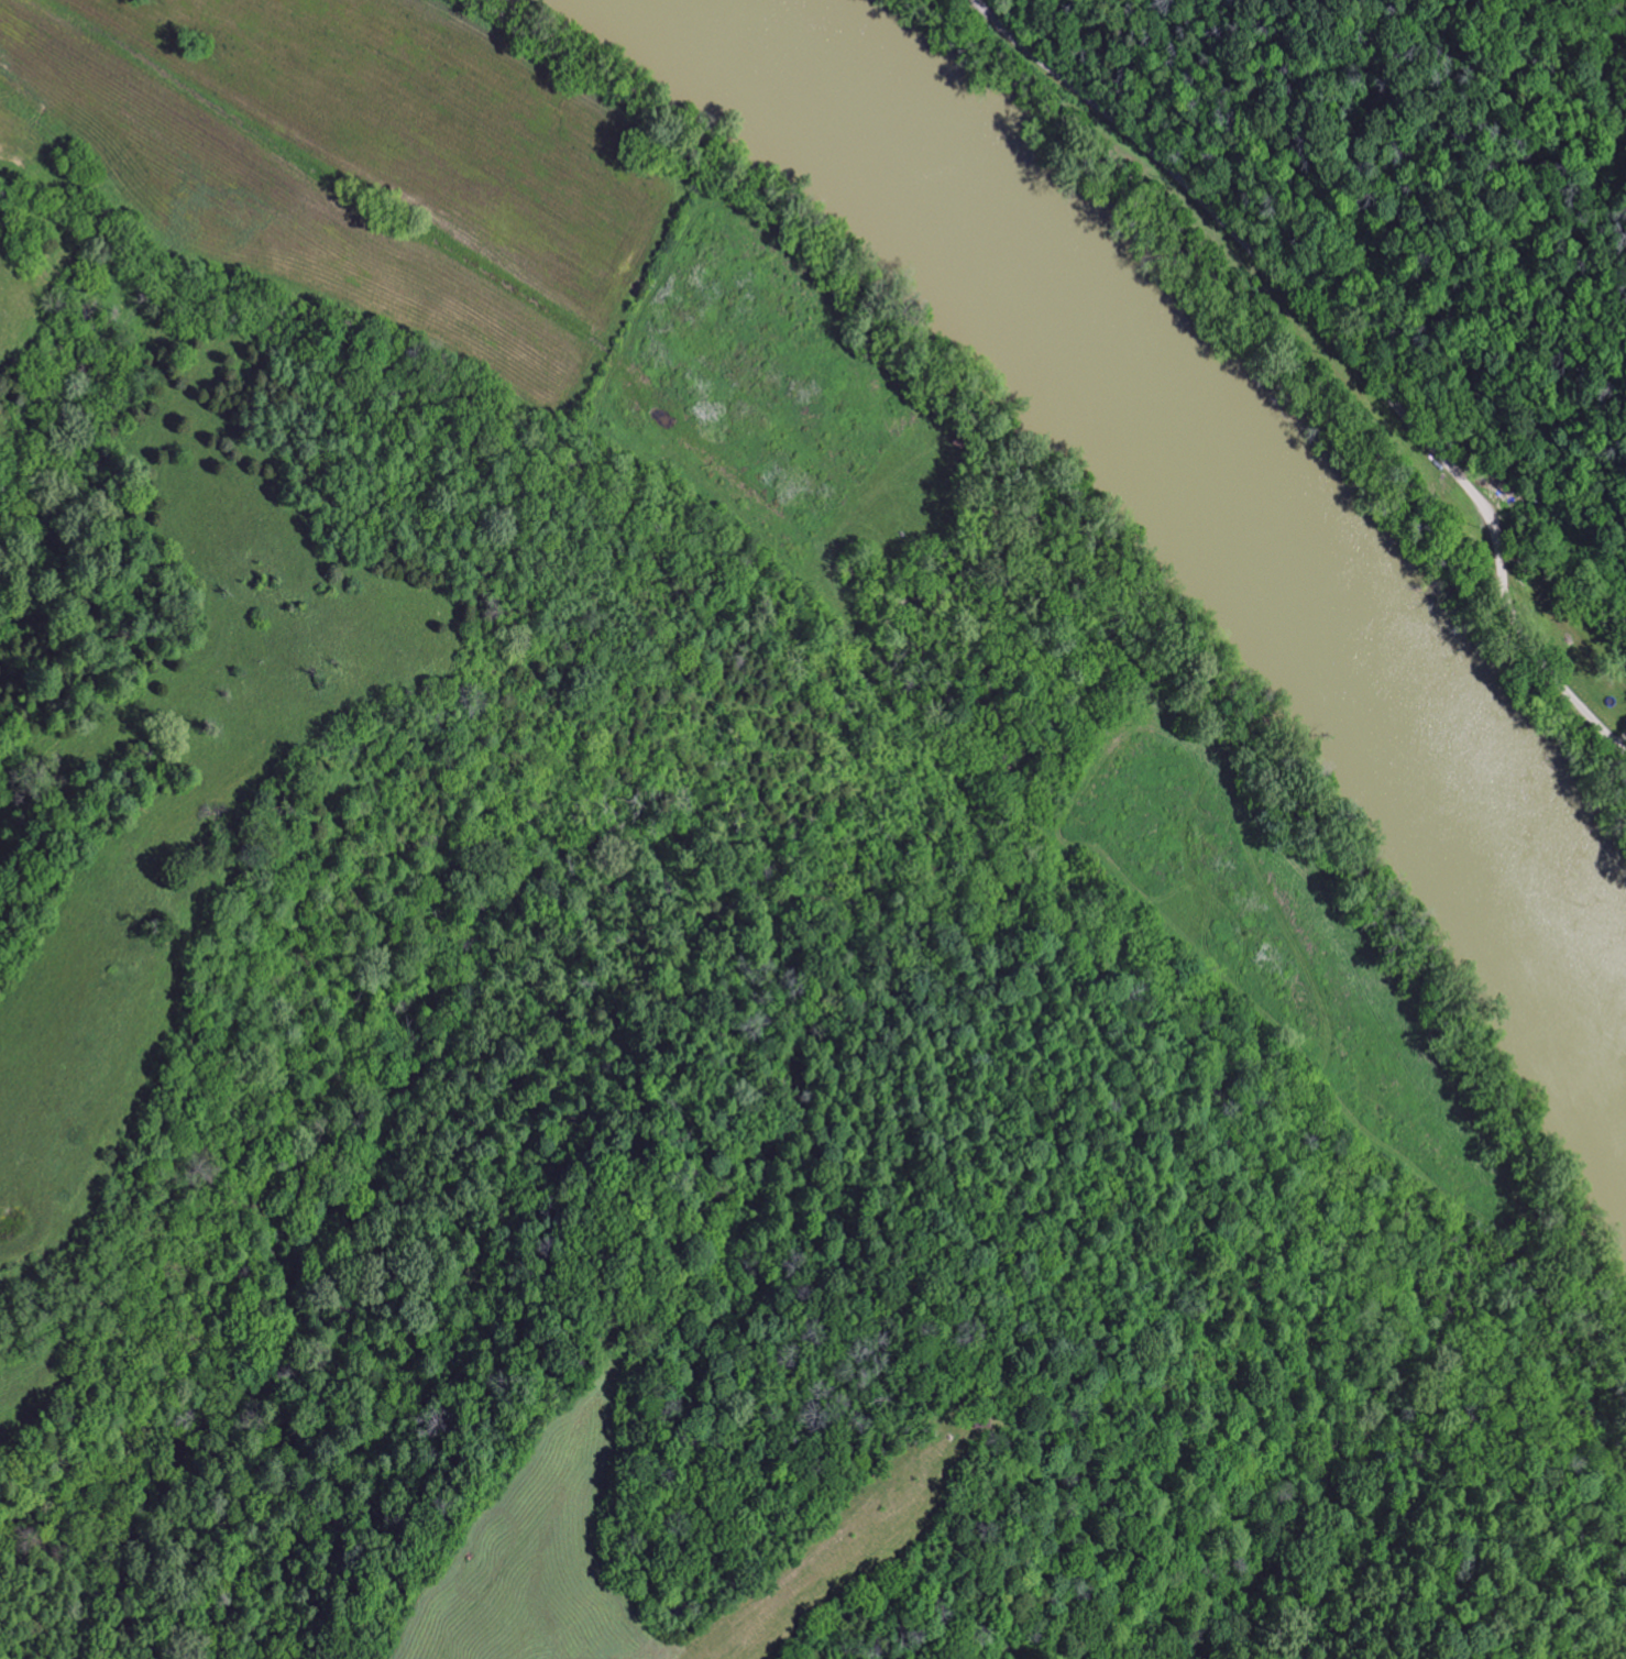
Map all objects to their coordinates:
road: (1343, 350)
river: (1223, 482)

